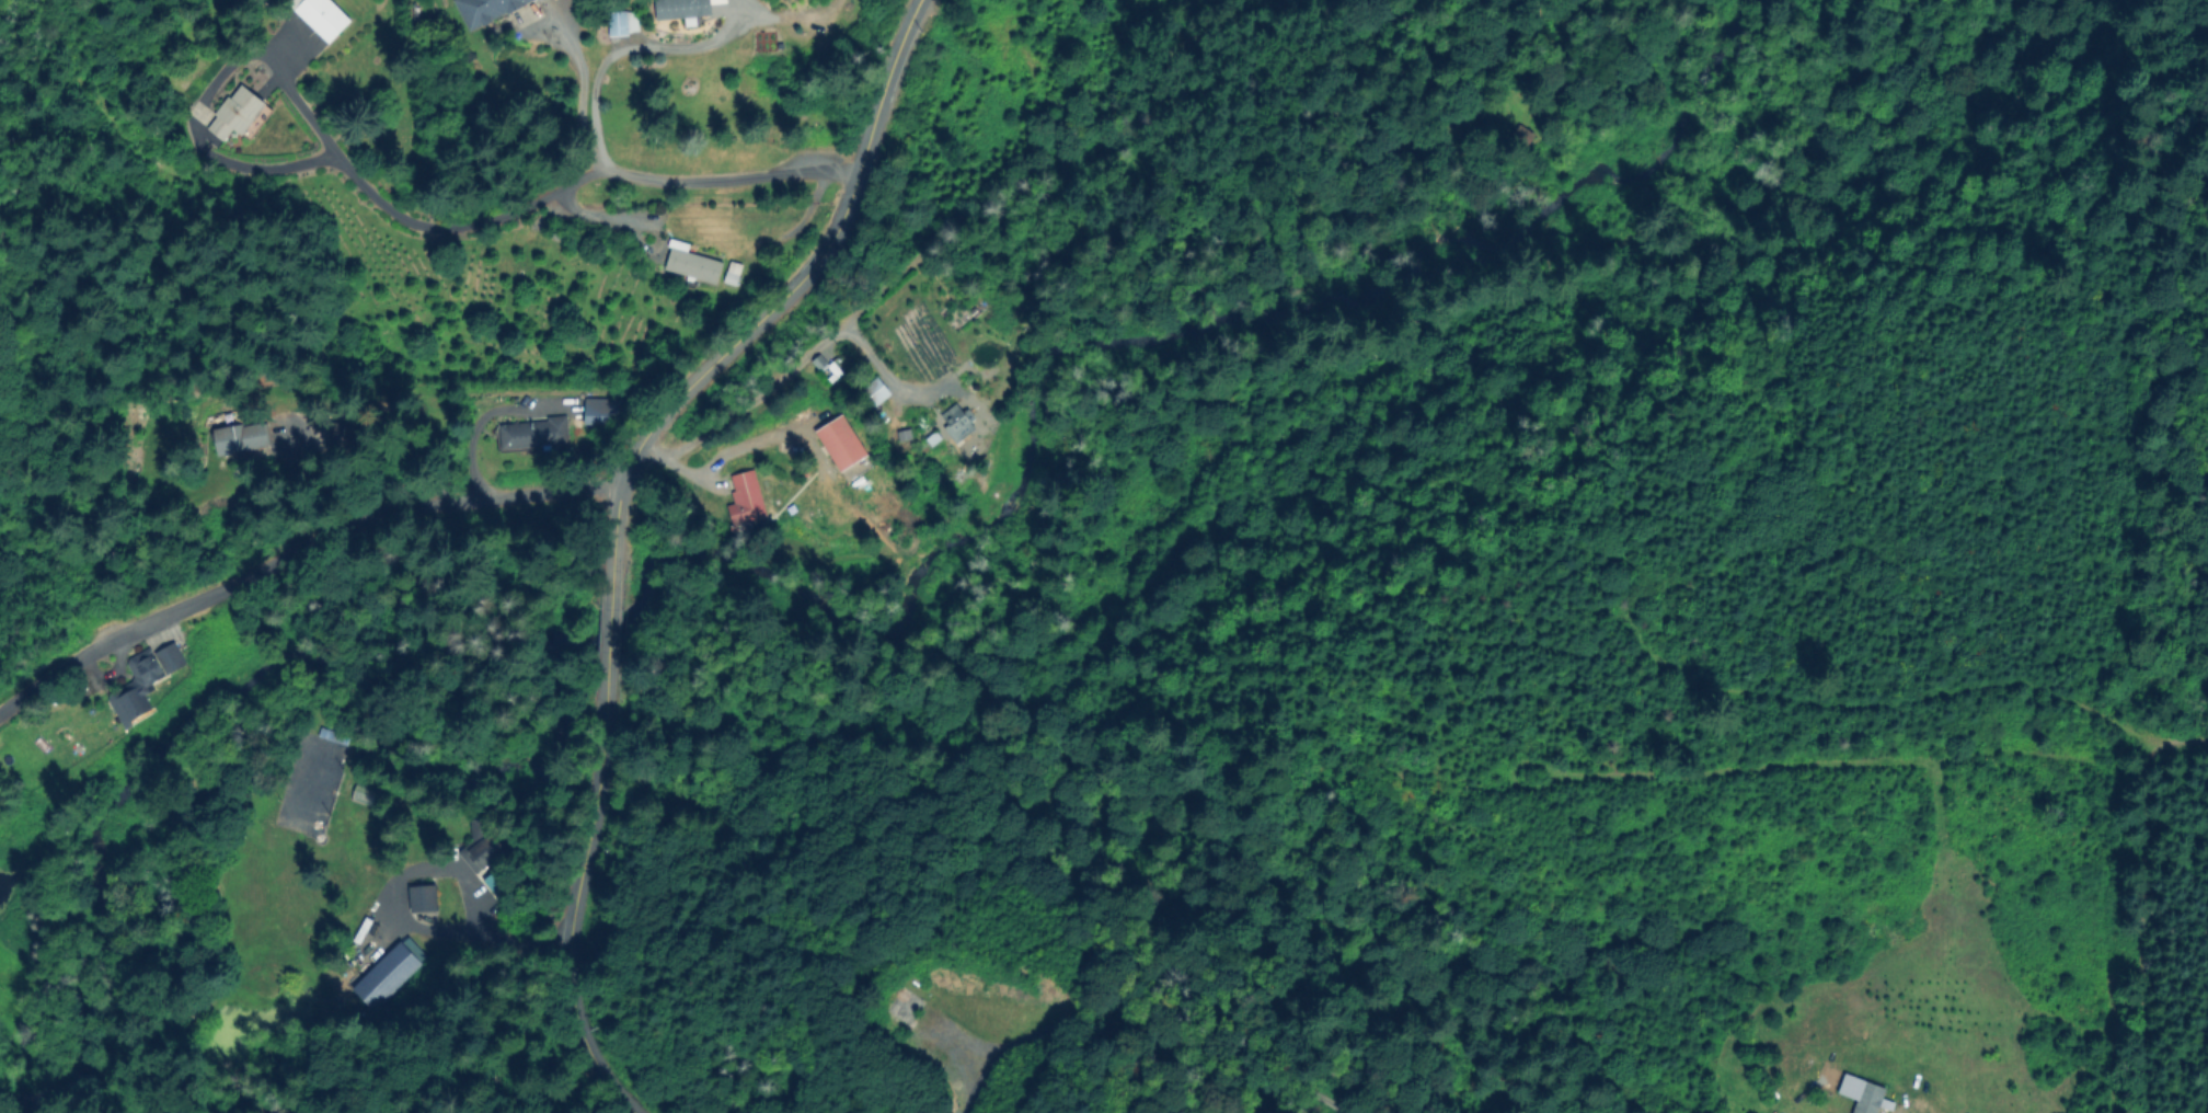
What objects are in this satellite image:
building: (683, 9)
building: (485, 10)
building: (324, 18)
building: (621, 21)
road: (624, 46)
road: (289, 93)
road: (577, 96)
road: (1097, 110)
building: (237, 114)
road: (704, 179)
building: (659, 220)
building: (694, 263)
road: (886, 365)
road: (787, 372)
building: (870, 387)
building: (586, 403)
building: (612, 406)
road: (468, 427)
building: (350, 435)
building: (537, 436)
building: (243, 437)
building: (843, 443)
building: (748, 500)
road: (619, 519)
road: (297, 550)
building: (143, 684)
building: (482, 847)
road: (553, 859)
road: (452, 869)
building: (498, 886)
building: (421, 899)
building: (905, 1010)
building: (1871, 1099)

